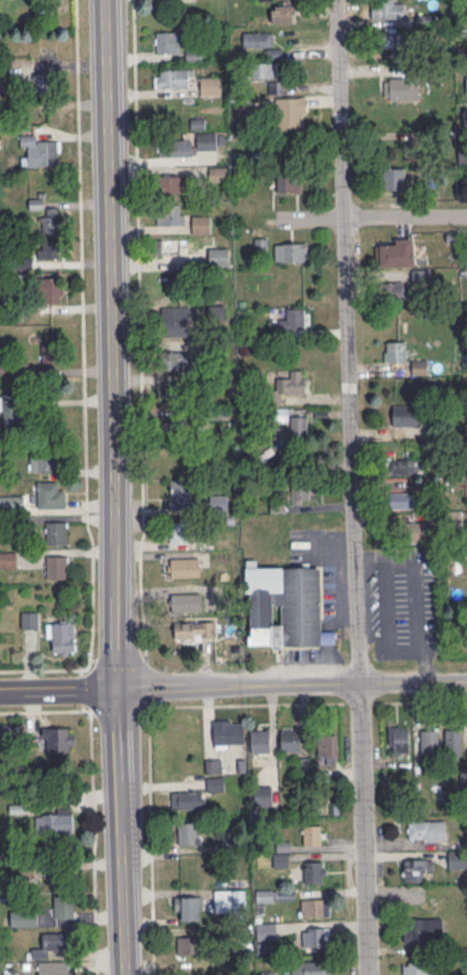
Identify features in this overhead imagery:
building: (387, 8)
building: (282, 12)
building: (258, 40)
building: (401, 40)
building: (168, 41)
building: (265, 69)
building: (171, 78)
building: (42, 81)
building: (401, 88)
building: (290, 111)
building: (206, 141)
building: (180, 147)
building: (41, 150)
building: (393, 178)
building: (288, 181)
building: (169, 183)
building: (170, 214)
road: (410, 217)
road: (309, 219)
building: (50, 220)
building: (201, 223)
building: (261, 244)
building: (174, 246)
building: (49, 249)
building: (290, 251)
building: (396, 253)
building: (219, 256)
building: (396, 288)
building: (51, 289)
building: (174, 320)
road: (140, 322)
building: (293, 322)
road: (113, 344)
building: (395, 351)
building: (175, 360)
building: (50, 362)
road: (83, 378)
building: (288, 385)
building: (175, 391)
building: (406, 415)
building: (176, 429)
building: (293, 430)
building: (43, 461)
building: (401, 465)
road: (358, 487)
building: (300, 489)
building: (50, 494)
building: (180, 494)
building: (401, 499)
building: (11, 502)
building: (178, 531)
building: (419, 531)
building: (56, 532)
building: (7, 559)
building: (57, 566)
building: (184, 567)
building: (189, 602)
building: (285, 606)
building: (29, 619)
building: (195, 630)
building: (62, 636)
road: (292, 684)
road: (82, 688)
road: (59, 690)
road: (420, 700)
road: (359, 702)
building: (228, 732)
building: (58, 739)
building: (290, 739)
building: (398, 739)
building: (260, 740)
building: (429, 740)
building: (452, 741)
road: (148, 743)
building: (327, 748)
building: (213, 765)
building: (215, 783)
building: (263, 795)
building: (184, 799)
road: (95, 801)
building: (54, 822)
building: (426, 830)
road: (122, 831)
building: (187, 832)
building: (313, 834)
building: (457, 859)
building: (417, 869)
building: (314, 871)
building: (267, 895)
building: (230, 900)
building: (63, 906)
building: (186, 907)
building: (314, 907)
building: (23, 917)
building: (420, 929)
building: (266, 931)
building: (315, 936)
building: (53, 944)
building: (187, 945)
building: (311, 967)
building: (55, 968)
building: (416, 968)

